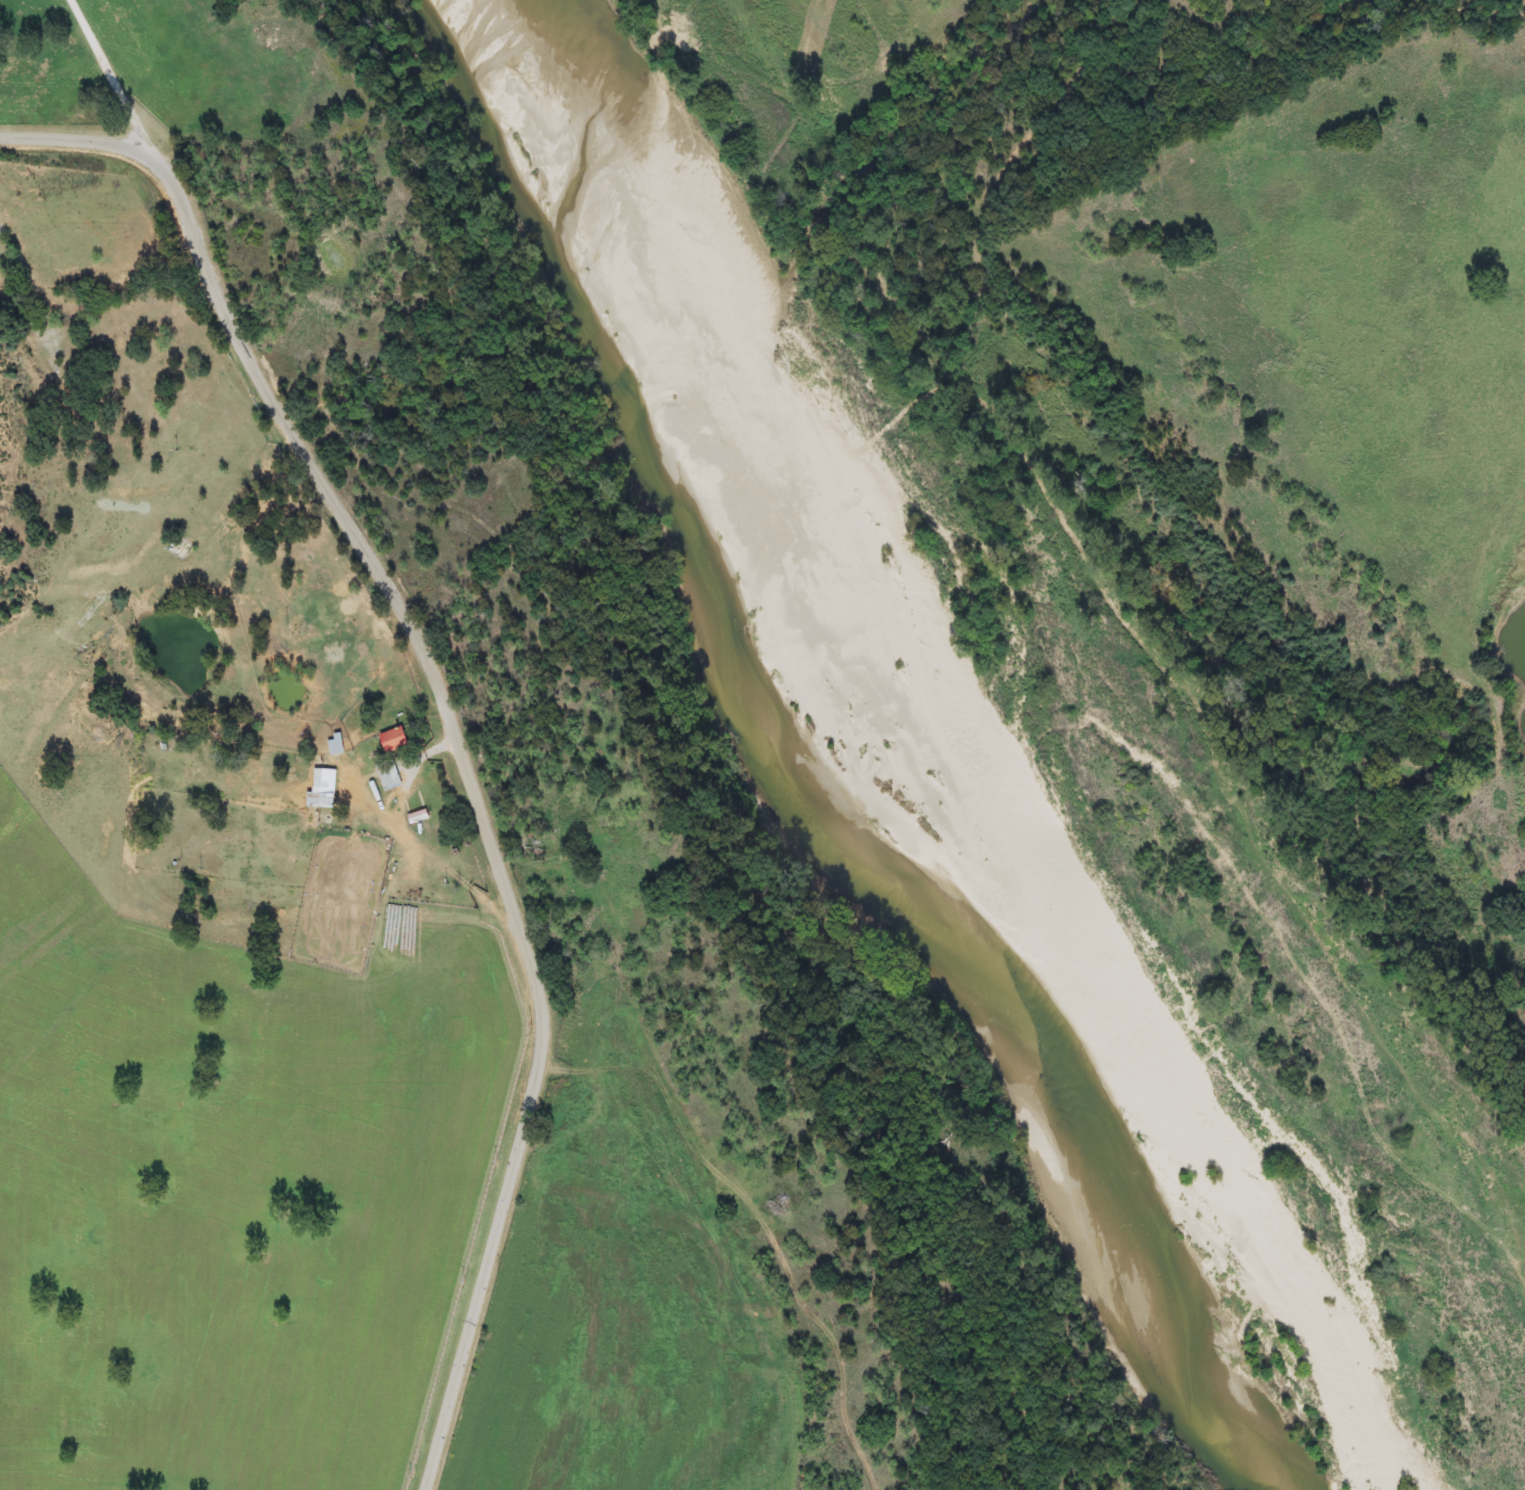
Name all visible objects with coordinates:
road: (108, 76)
river: (549, 252)
road: (459, 714)
building: (396, 740)
building: (336, 744)
building: (390, 775)
river: (784, 779)
building: (420, 816)
building: (537, 845)

